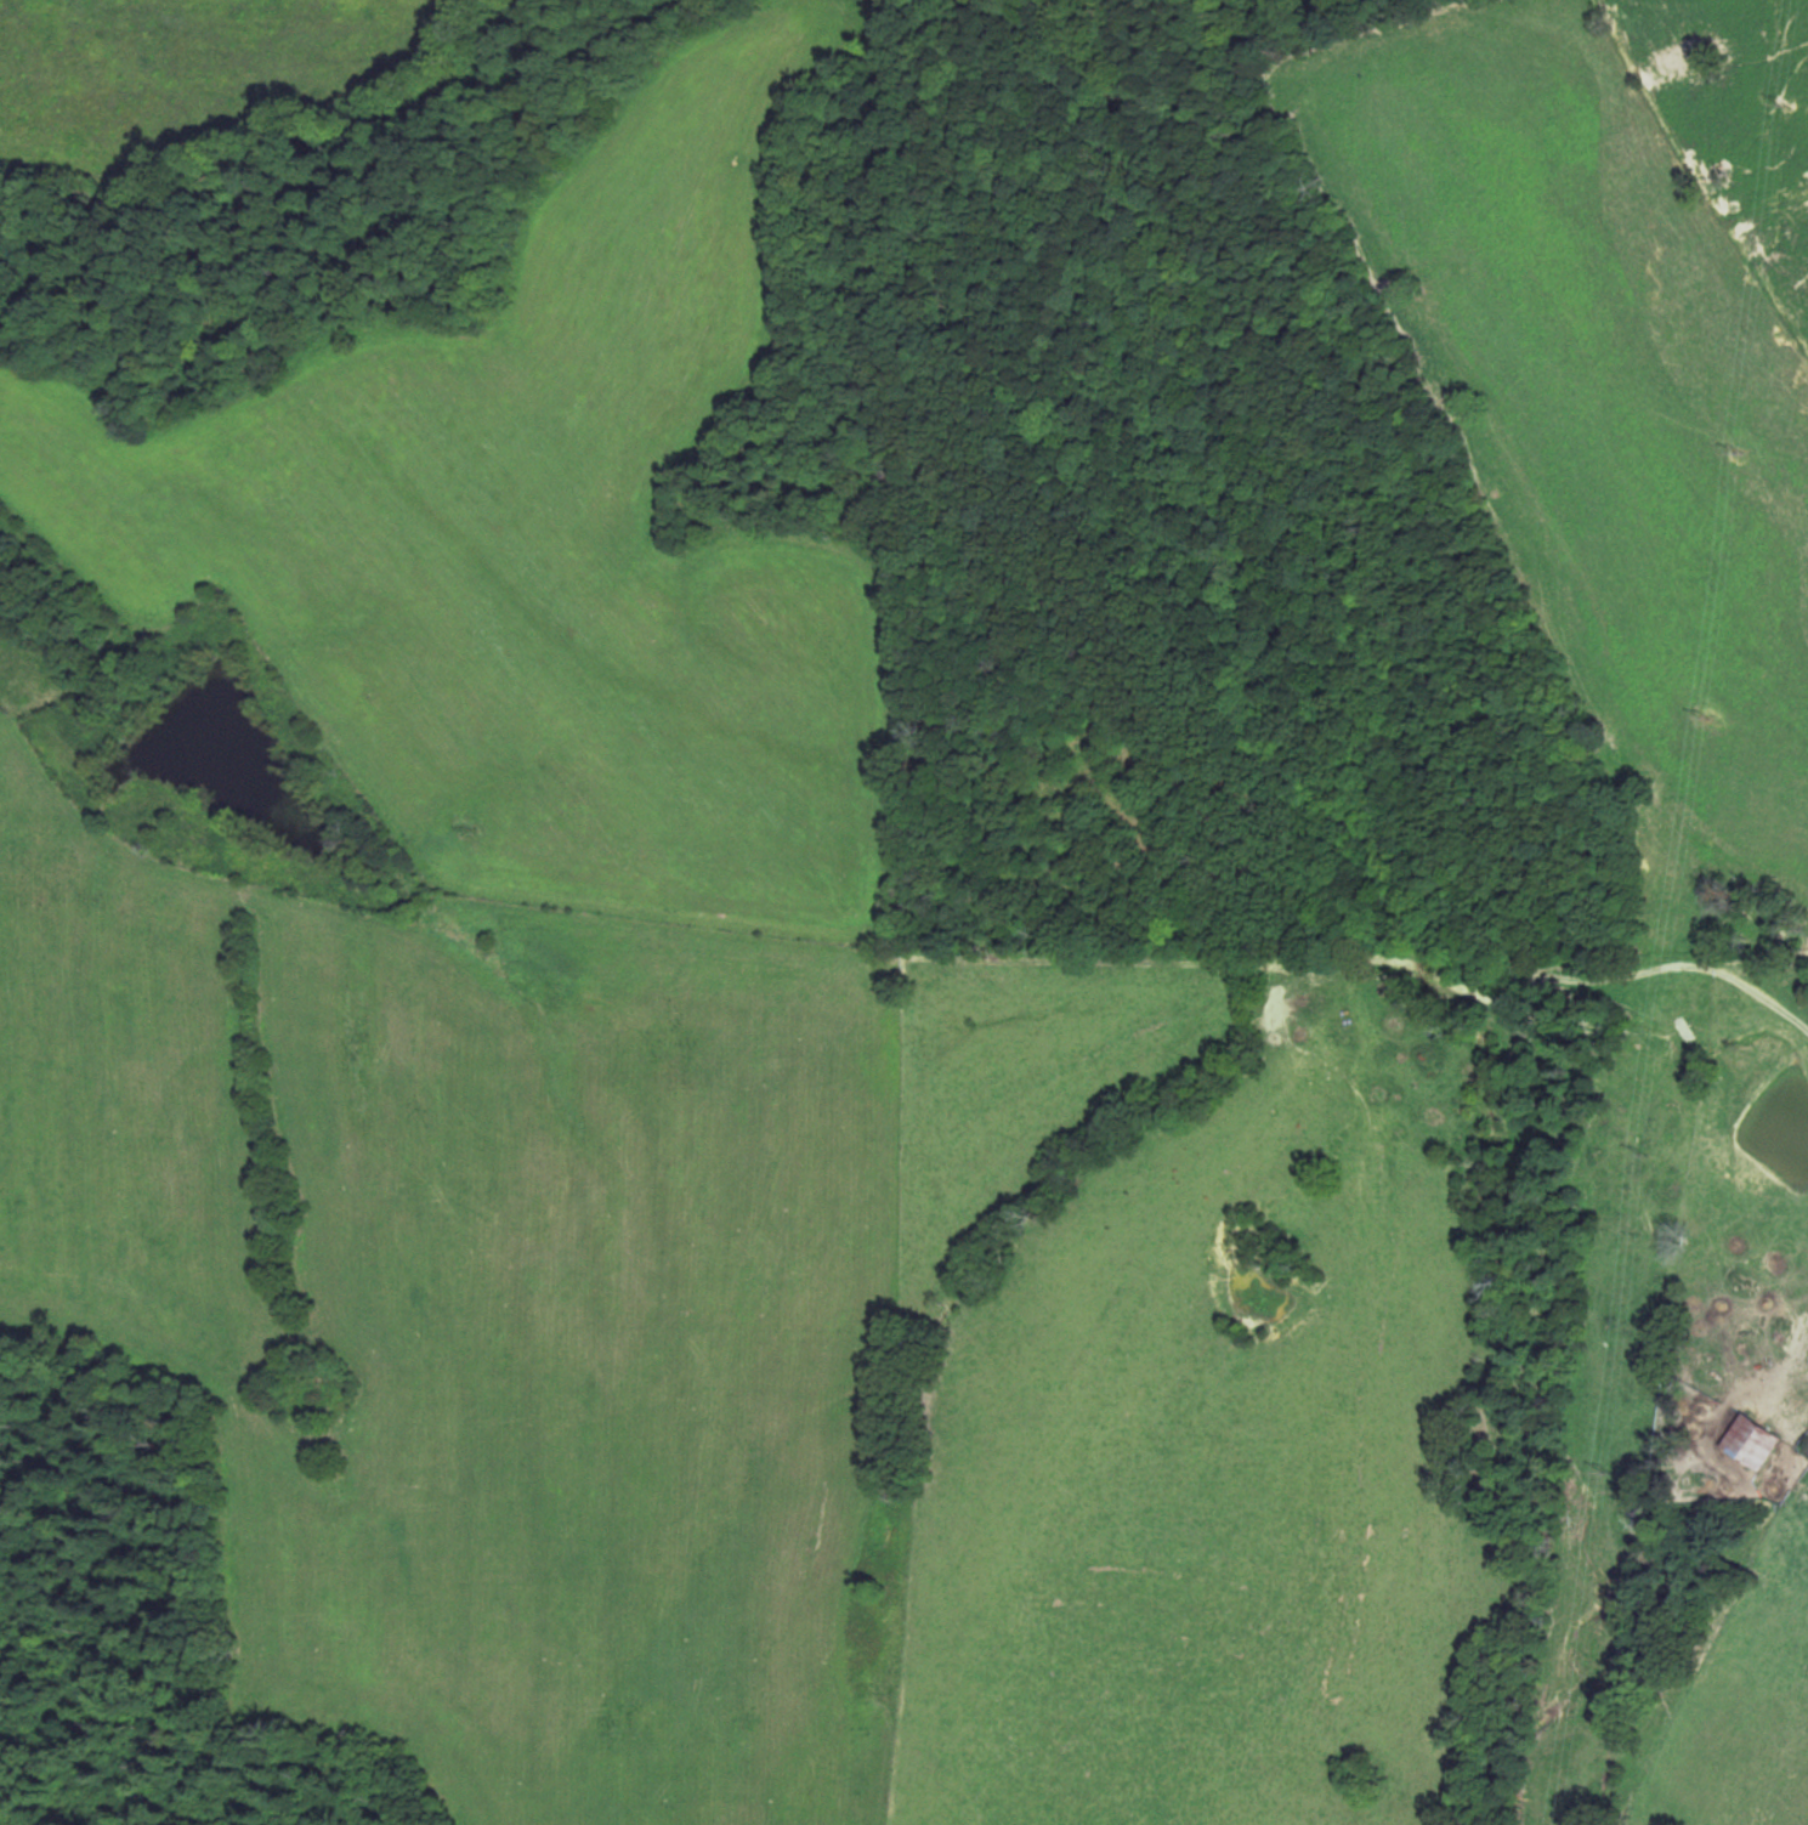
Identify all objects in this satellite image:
road: (1801, 1424)
building: (1753, 1441)

